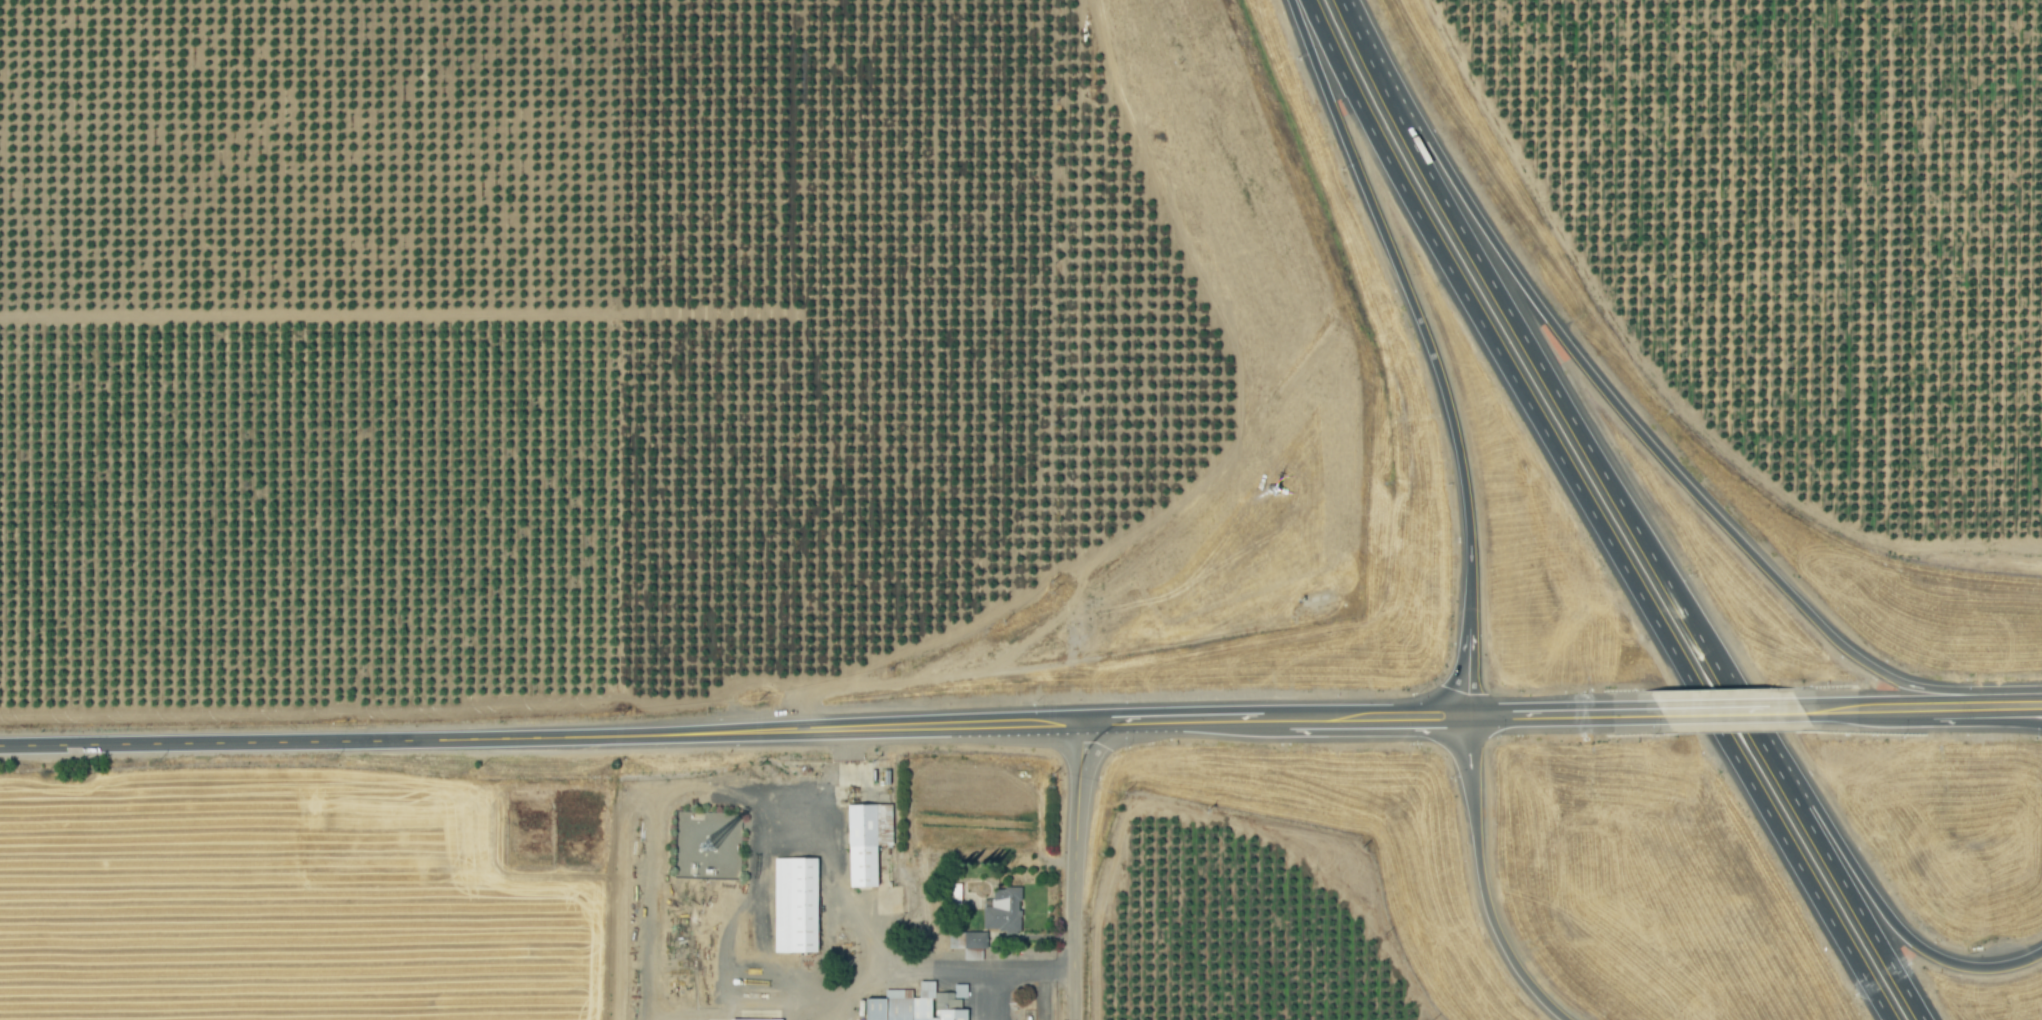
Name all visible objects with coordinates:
road: (1366, 55)
road: (1410, 302)
road: (1556, 393)
road: (1649, 443)
road: (1591, 513)
road: (1468, 665)
road: (2031, 700)
road: (1995, 701)
road: (1890, 702)
road: (1747, 703)
road: (1575, 707)
road: (2031, 710)
road: (1367, 712)
road: (1170, 716)
road: (1752, 728)
road: (536, 730)
road: (654, 818)
building: (866, 841)
road: (836, 857)
road: (1073, 869)
road: (1480, 879)
road: (1853, 901)
building: (795, 906)
crop: (262, 911)
building: (1003, 911)
road: (1888, 917)
building: (967, 941)
road: (1012, 968)
road: (901, 974)
building: (918, 1005)
building: (781, 1019)

